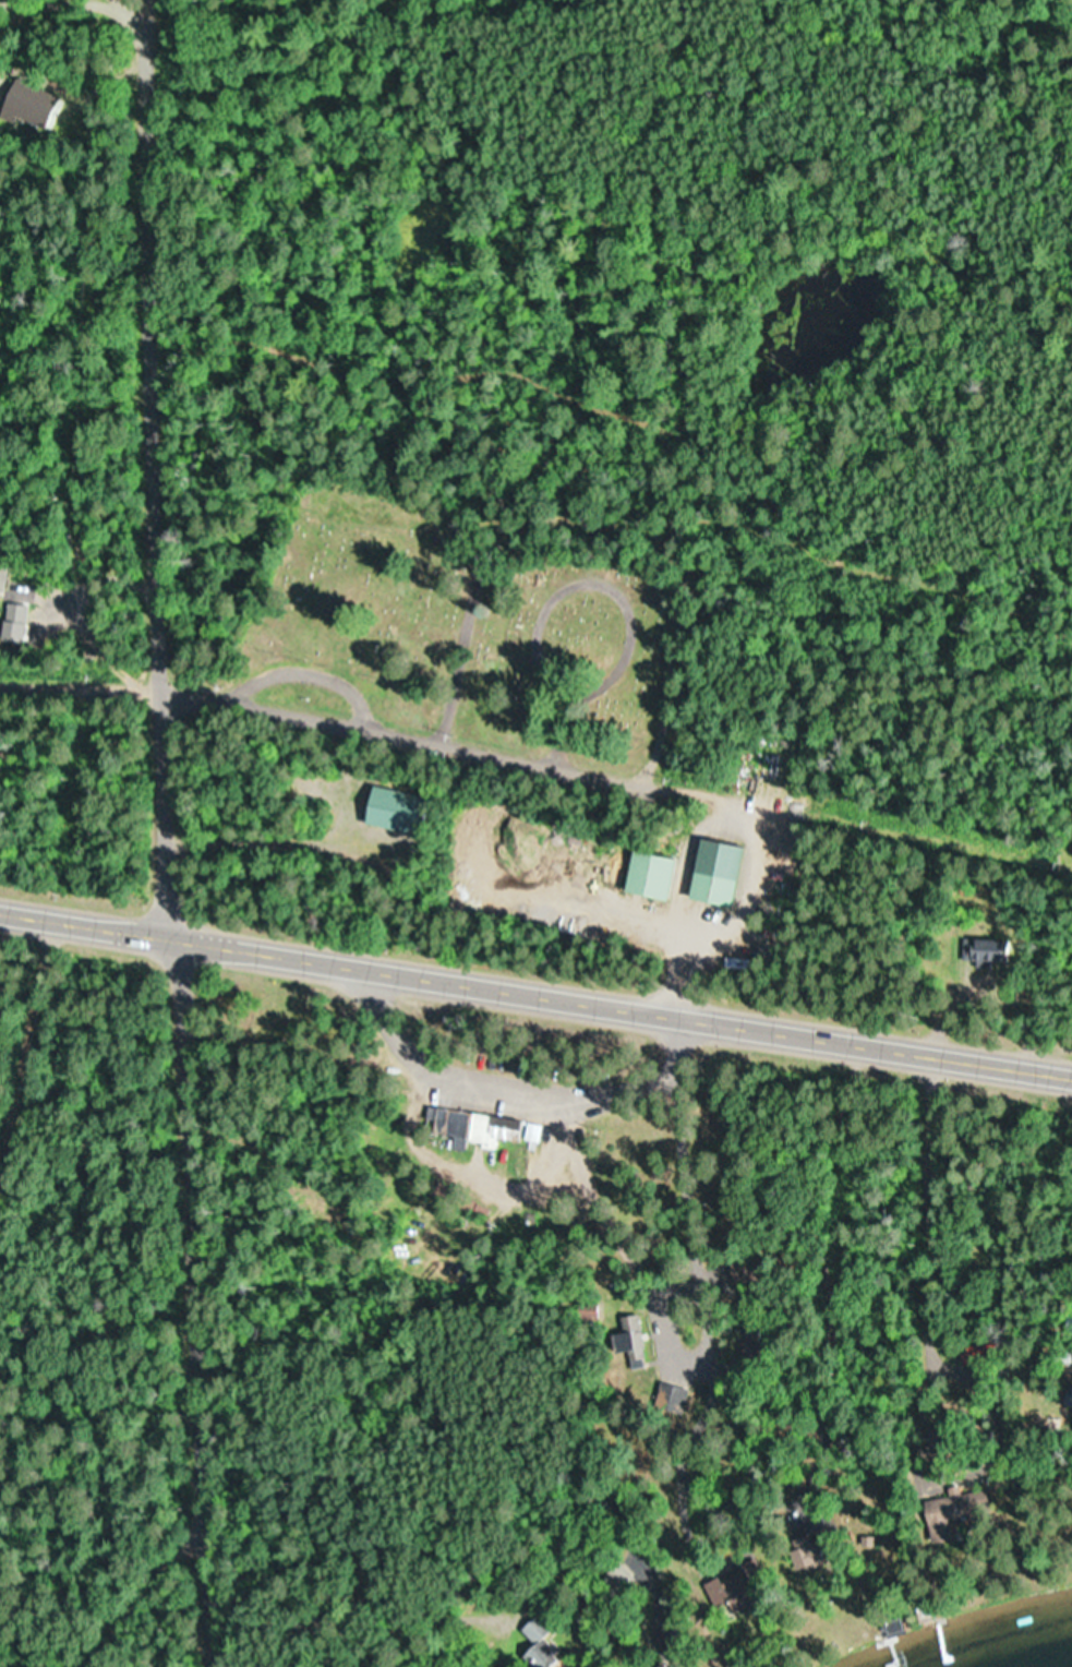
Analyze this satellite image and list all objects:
park: (435, 439)
road: (141, 465)
building: (1, 572)
road: (74, 685)
road: (393, 729)
building: (388, 808)
building: (647, 875)
building: (709, 889)
building: (981, 951)
road: (534, 994)
road: (29, 1053)
road: (510, 1089)
building: (478, 1129)
road: (179, 1298)
building: (587, 1311)
building: (629, 1341)
building: (673, 1399)
building: (1071, 1401)
building: (944, 1516)
building: (731, 1593)
building: (541, 1648)

